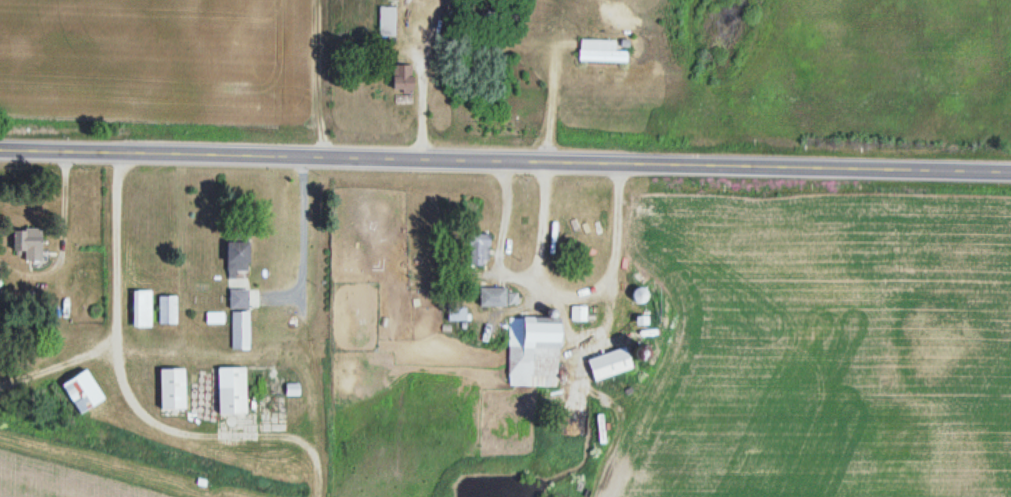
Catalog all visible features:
building: (384, 22)
building: (599, 52)
building: (401, 80)
road: (505, 161)
building: (28, 242)
building: (476, 248)
building: (234, 257)
building: (637, 294)
building: (490, 297)
building: (236, 299)
building: (140, 308)
building: (165, 309)
building: (239, 330)
building: (531, 351)
building: (607, 363)
building: (169, 389)
building: (229, 389)
building: (79, 391)

